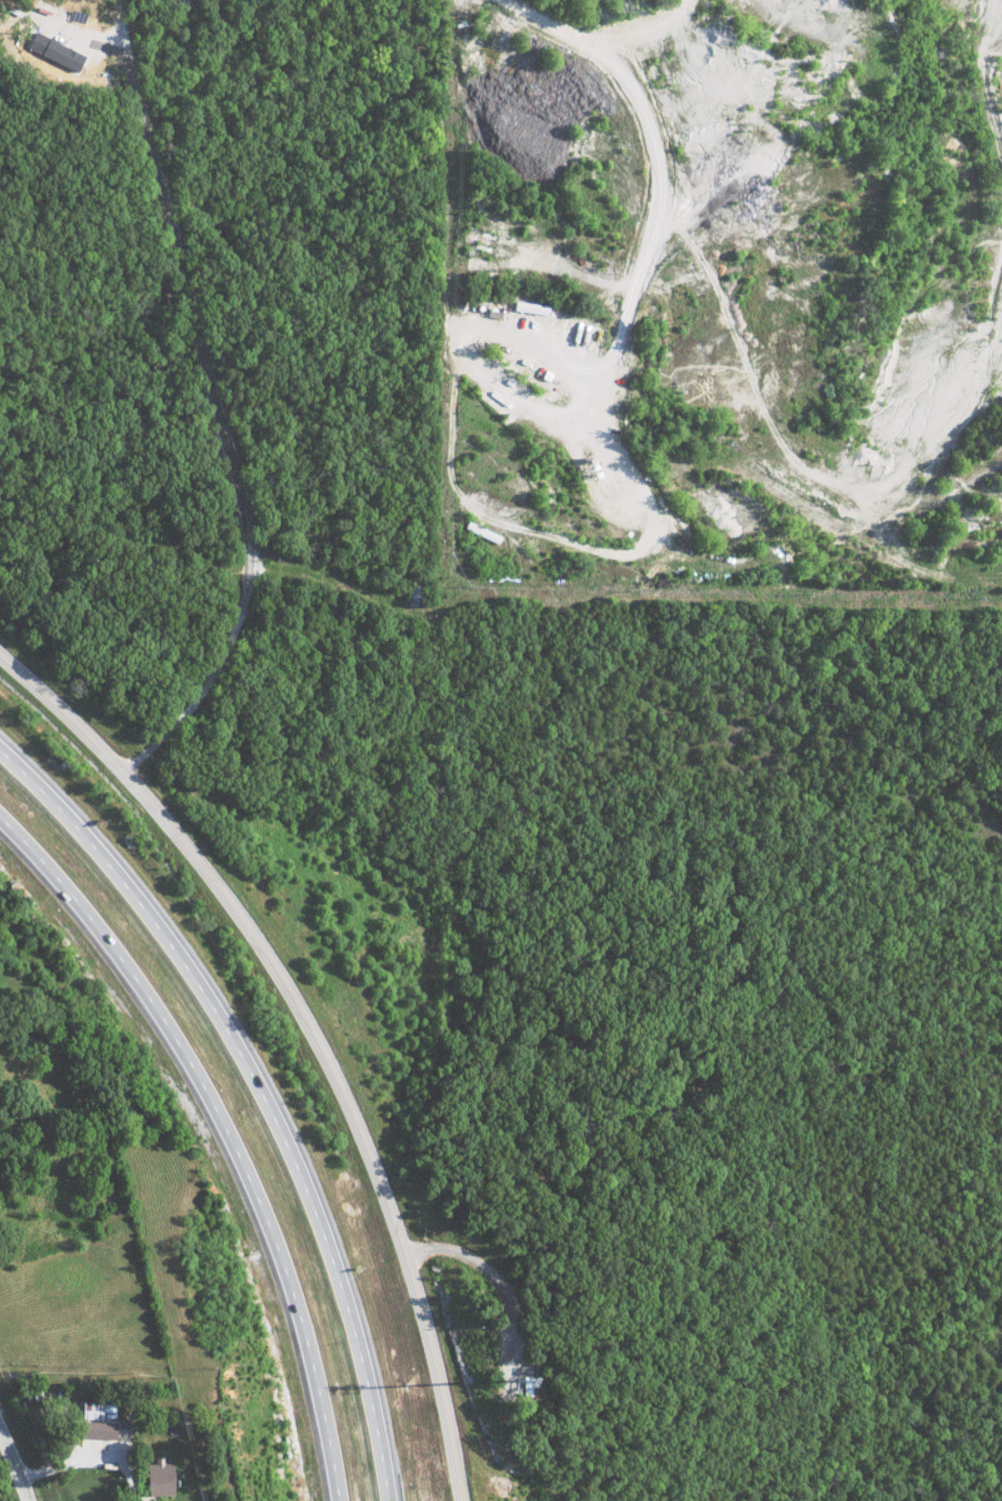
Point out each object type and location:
road: (520, 11)
building: (60, 56)
road: (652, 185)
quarry: (718, 291)
road: (307, 1038)
road: (256, 1094)
road: (224, 1131)
building: (521, 1386)
building: (96, 1420)
road: (18, 1457)
building: (156, 1478)

